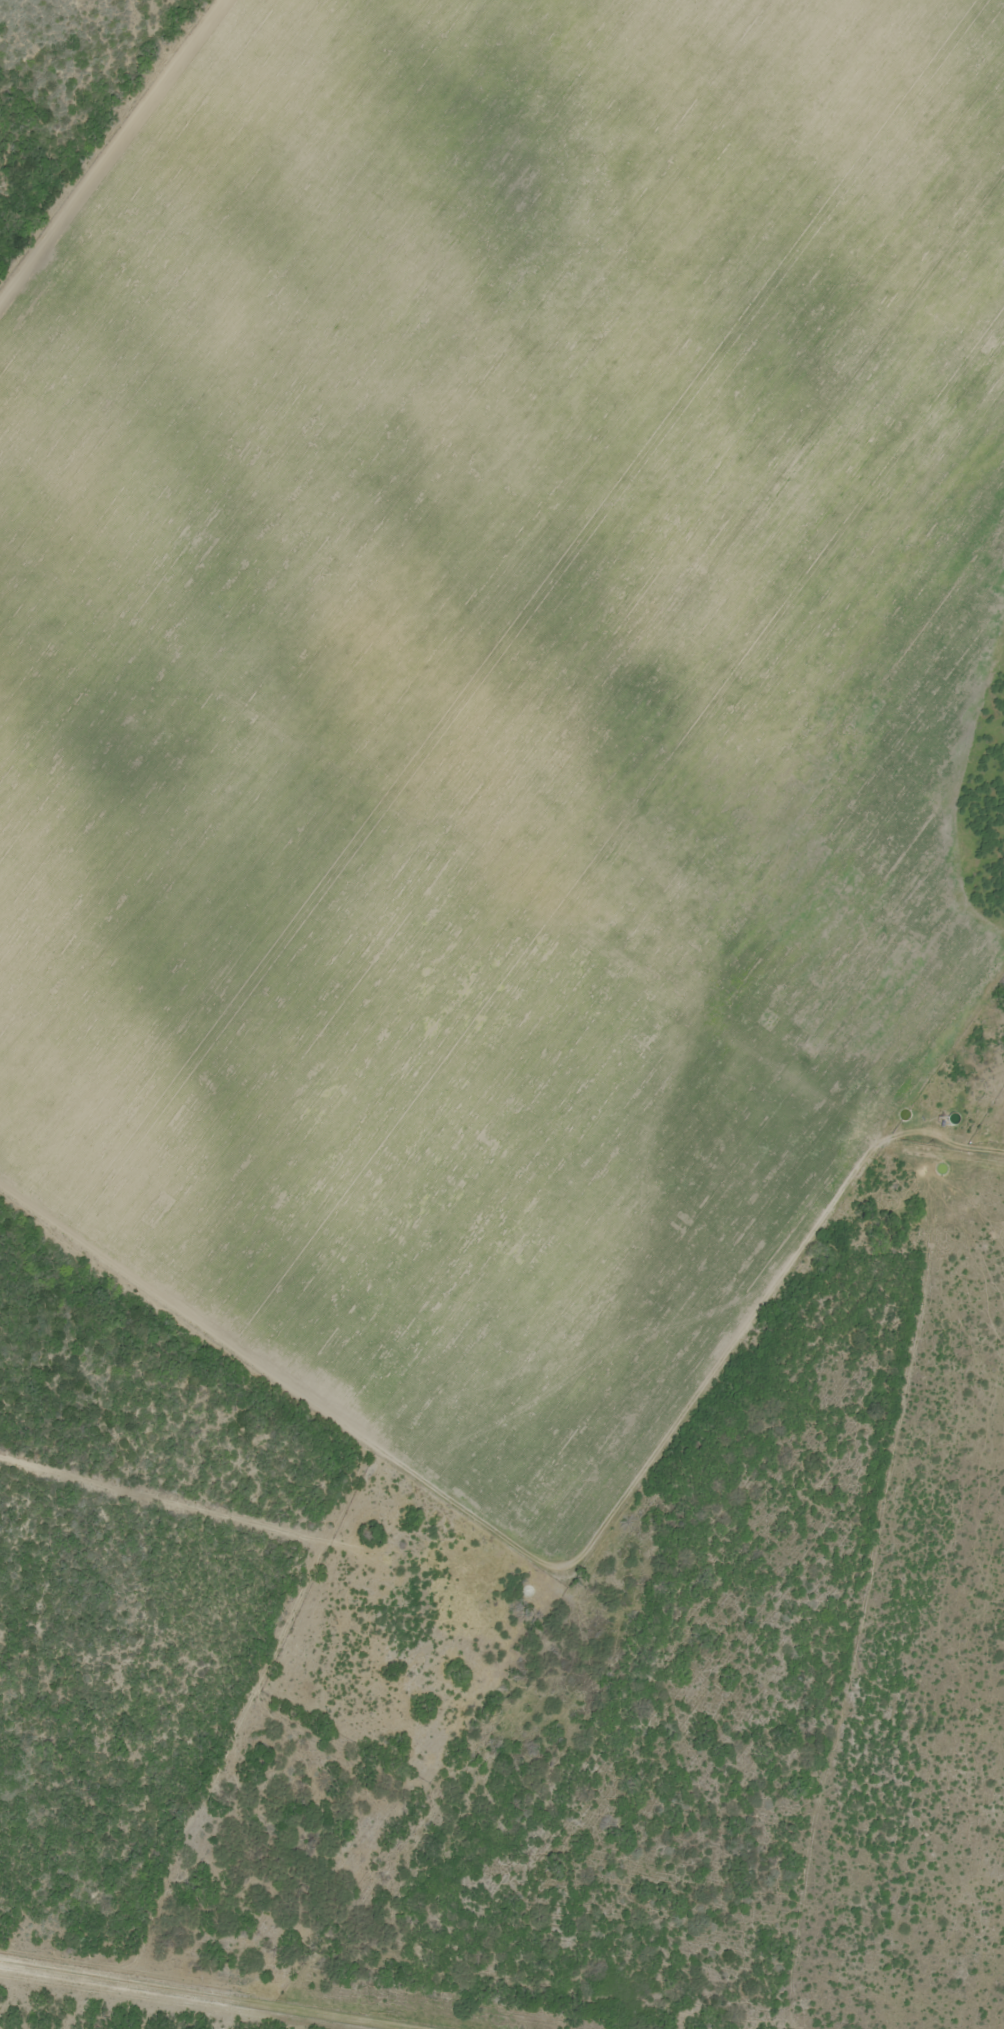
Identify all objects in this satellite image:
road: (95, 133)
road: (958, 1129)
road: (254, 1381)

